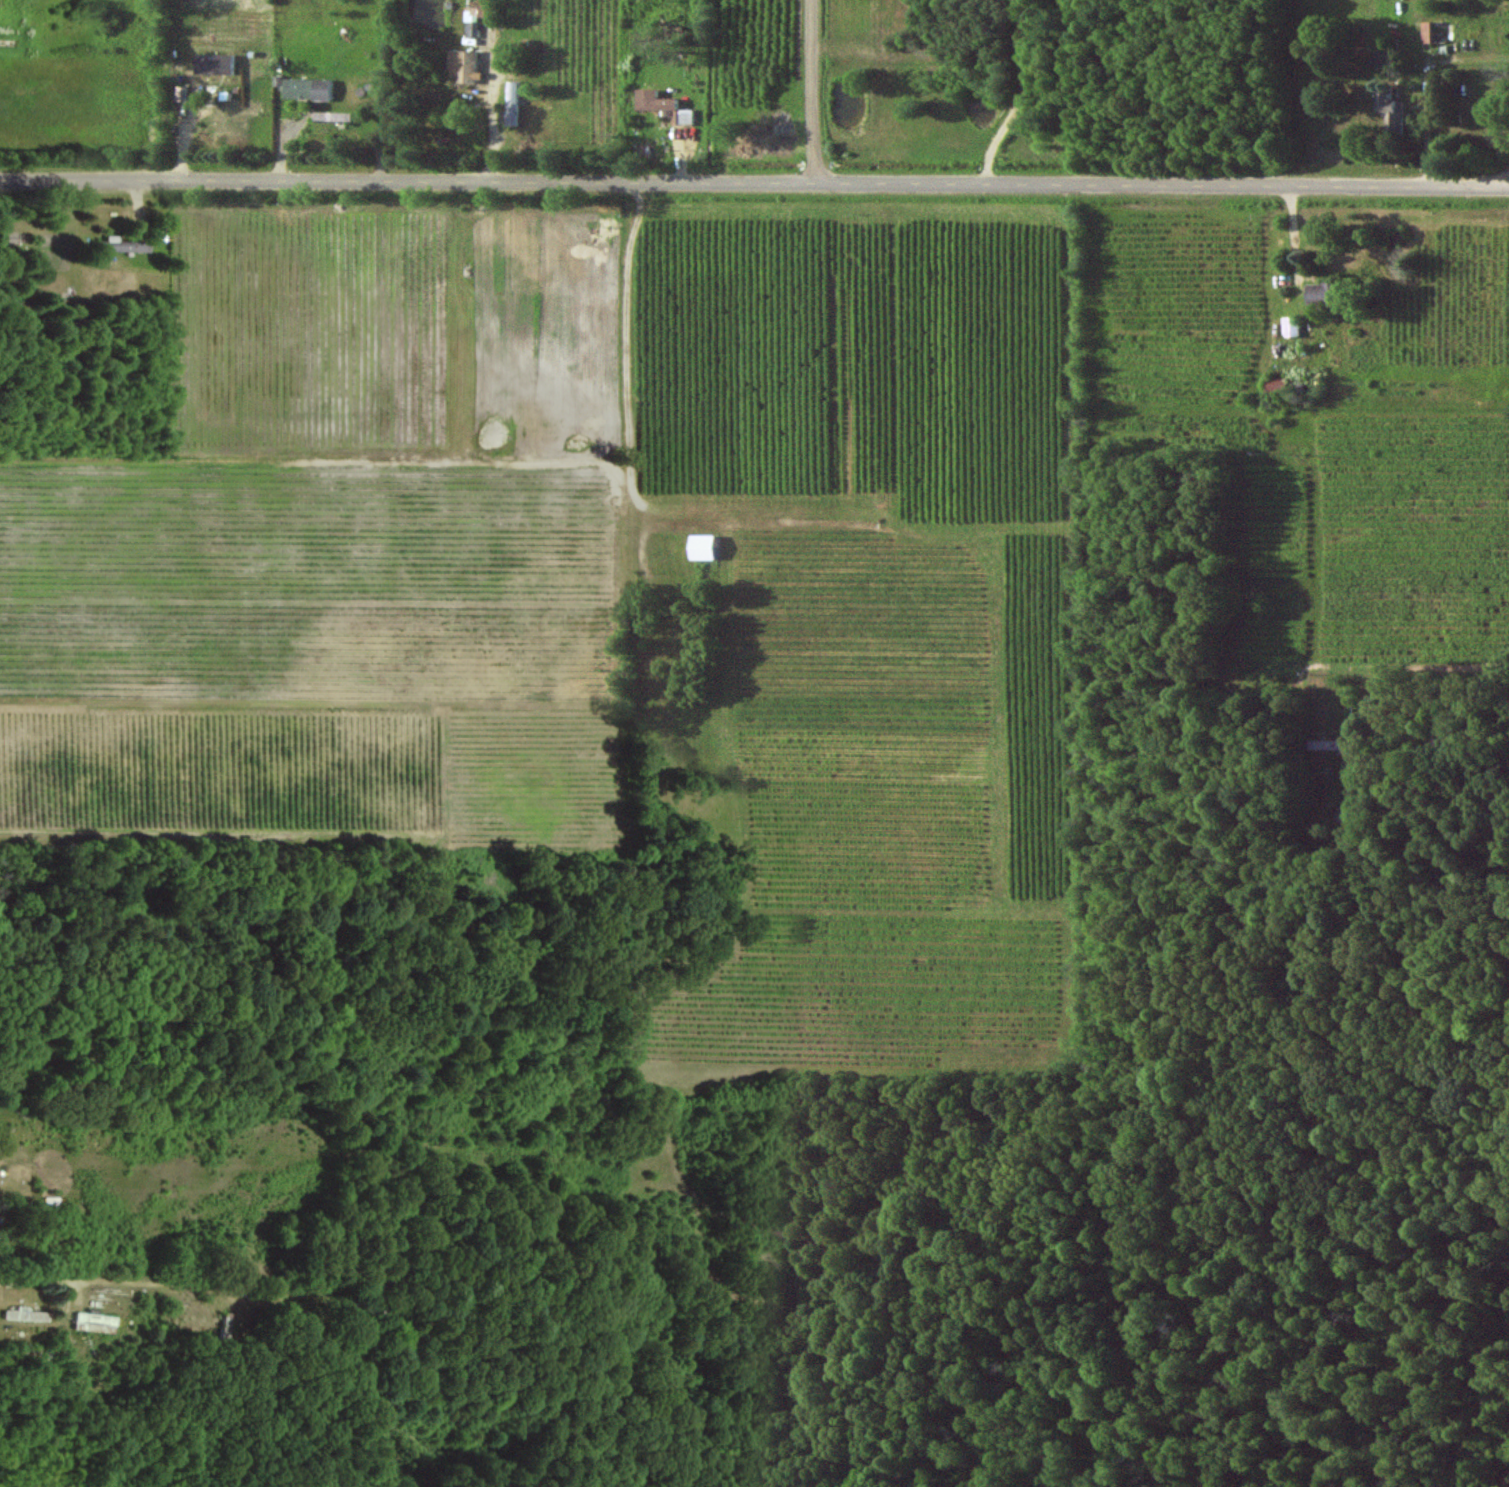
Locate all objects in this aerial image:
building: (480, 13)
building: (1434, 32)
building: (219, 64)
building: (466, 65)
building: (312, 89)
road: (1431, 90)
road: (815, 93)
road: (1020, 96)
building: (516, 105)
building: (661, 107)
building: (1390, 112)
building: (338, 116)
road: (754, 185)
building: (125, 244)
building: (1316, 294)
building: (1290, 327)
building: (710, 547)
building: (1327, 745)
building: (90, 1320)

